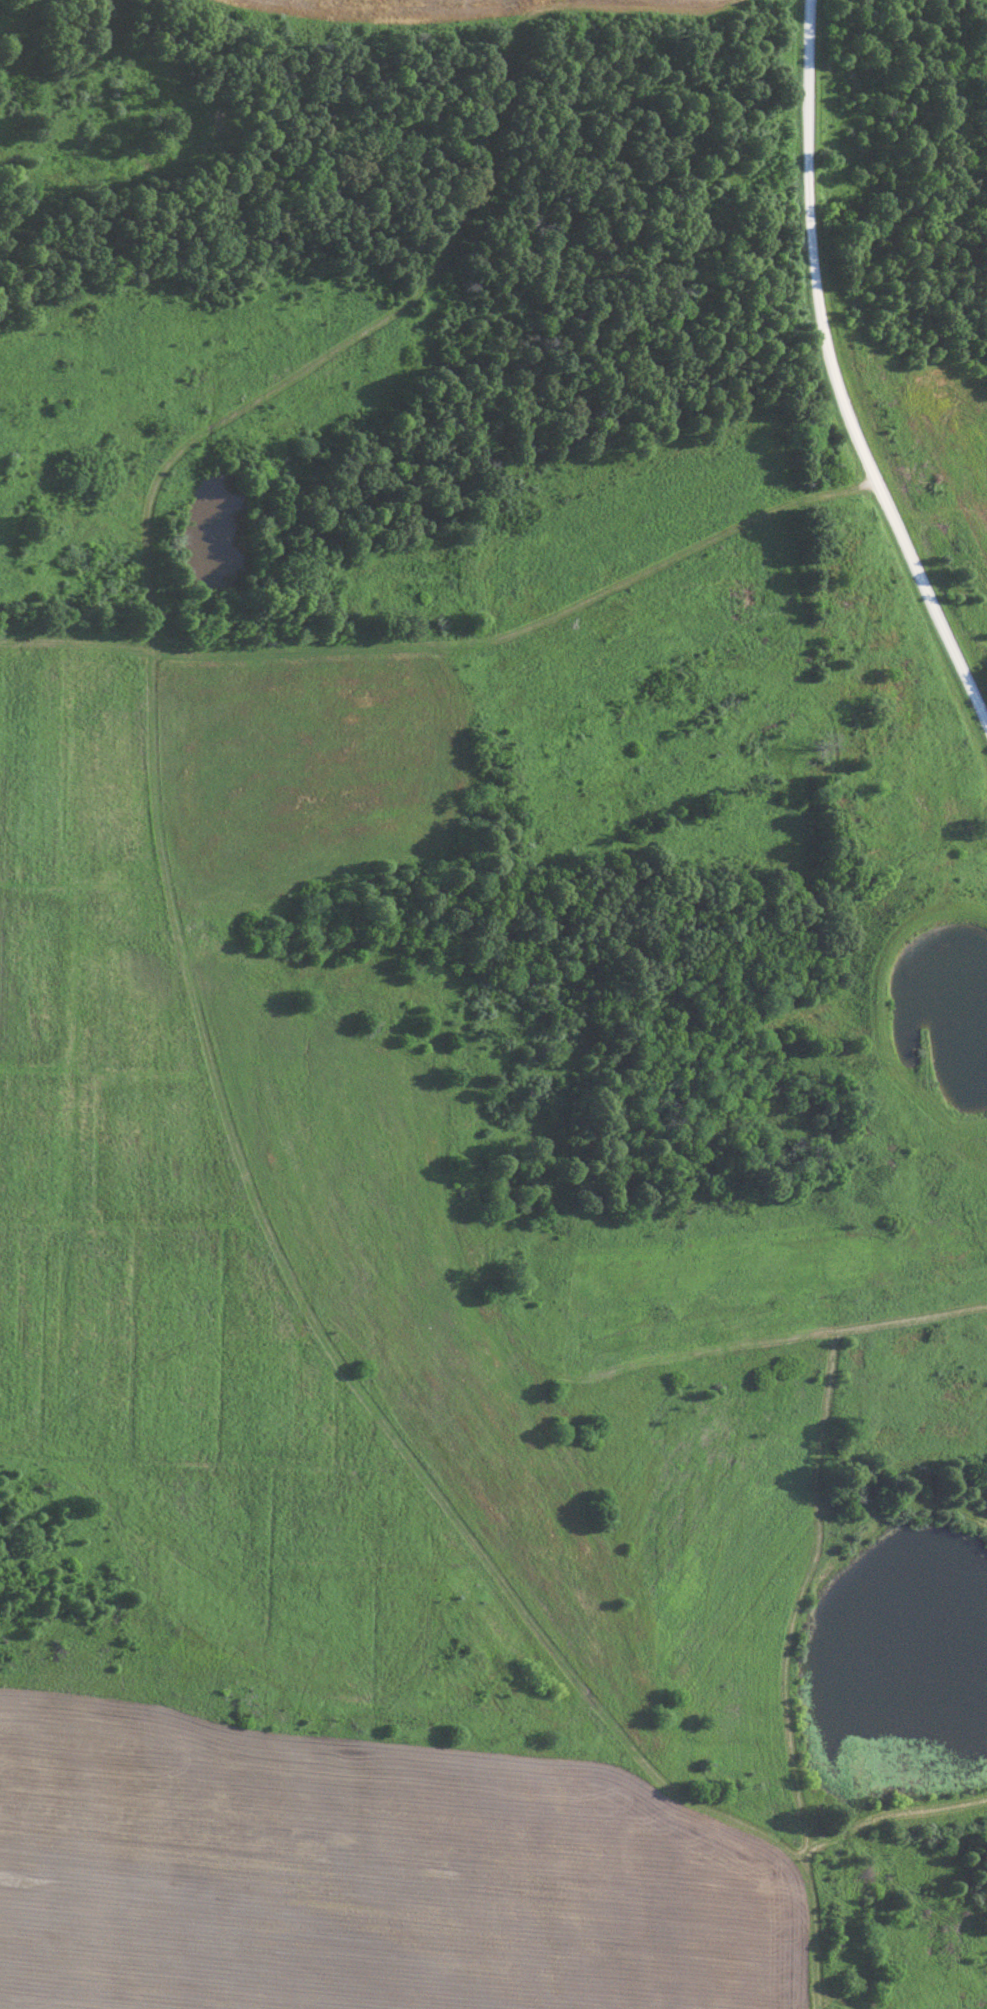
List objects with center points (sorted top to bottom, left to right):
road: (808, 116)
road: (876, 486)

